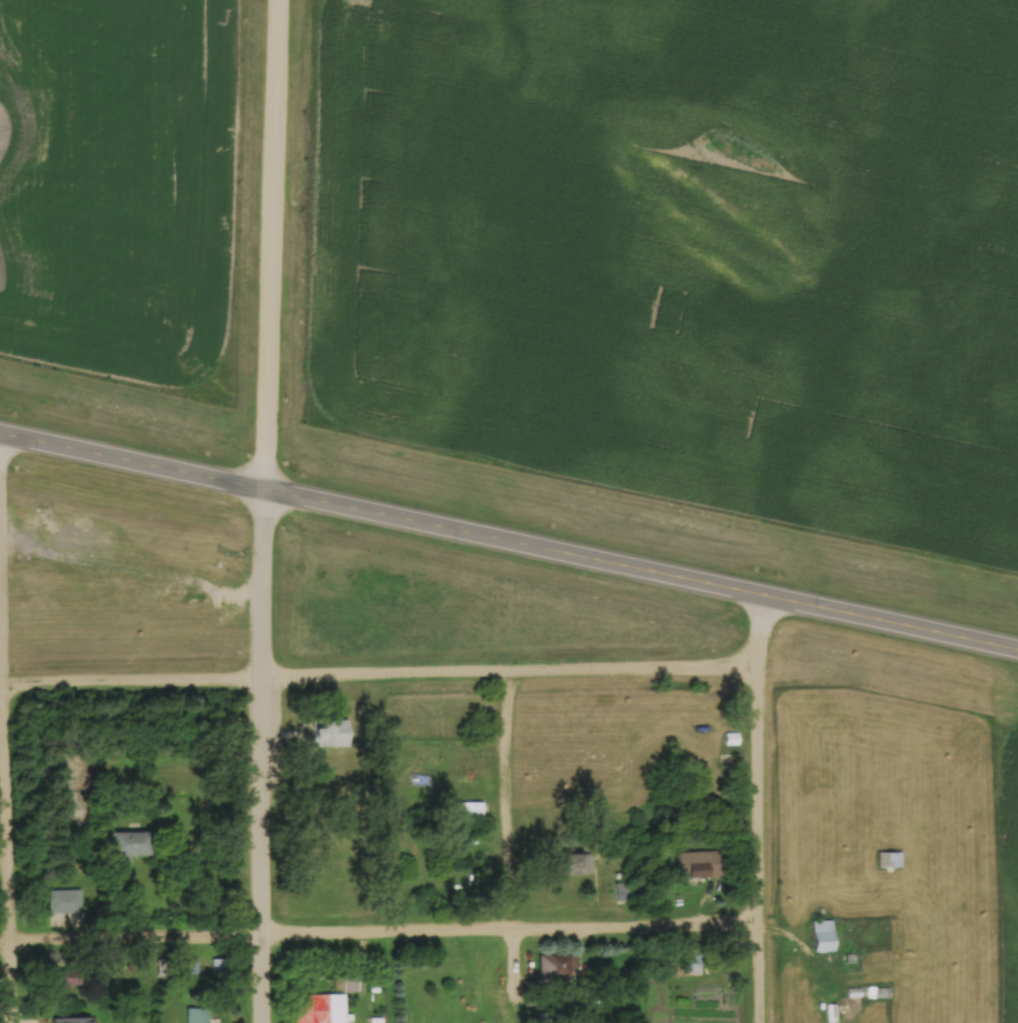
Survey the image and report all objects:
road: (272, 246)
road: (509, 543)
road: (262, 587)
road: (630, 674)
road: (251, 682)
road: (1, 685)
building: (324, 732)
building: (727, 737)
building: (423, 749)
building: (420, 778)
road: (5, 782)
road: (500, 806)
building: (477, 808)
road: (761, 810)
building: (122, 842)
road: (263, 852)
building: (887, 858)
building: (574, 862)
building: (693, 868)
building: (621, 889)
building: (820, 933)
road: (385, 935)
road: (5, 944)
building: (690, 955)
building: (551, 965)
building: (190, 966)
building: (221, 967)
building: (729, 973)
building: (58, 980)
building: (878, 990)
building: (319, 1008)
building: (197, 1014)
building: (67, 1019)

